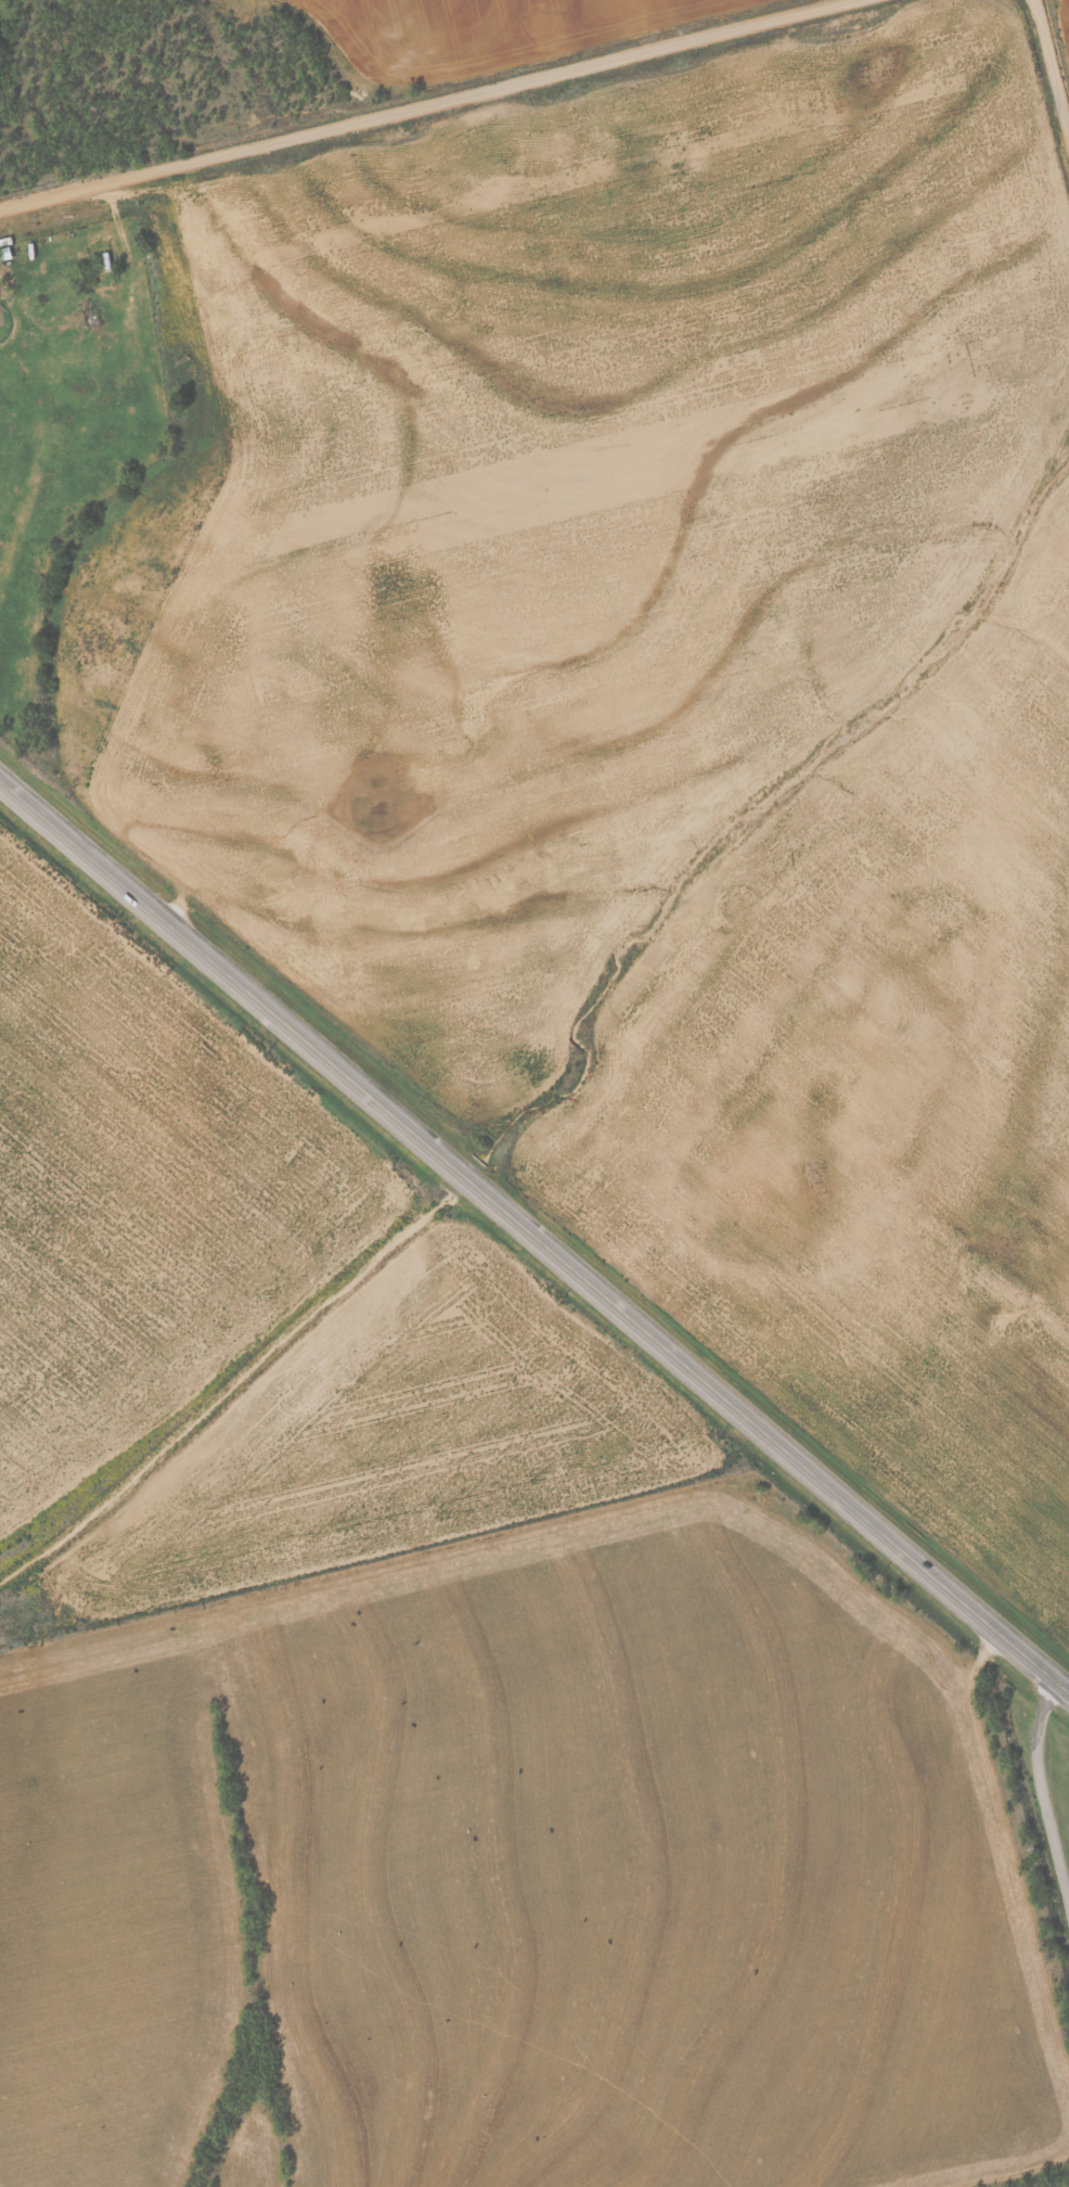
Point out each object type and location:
road: (1053, 65)
road: (423, 103)
building: (5, 254)
road: (534, 1237)
road: (1041, 1793)

